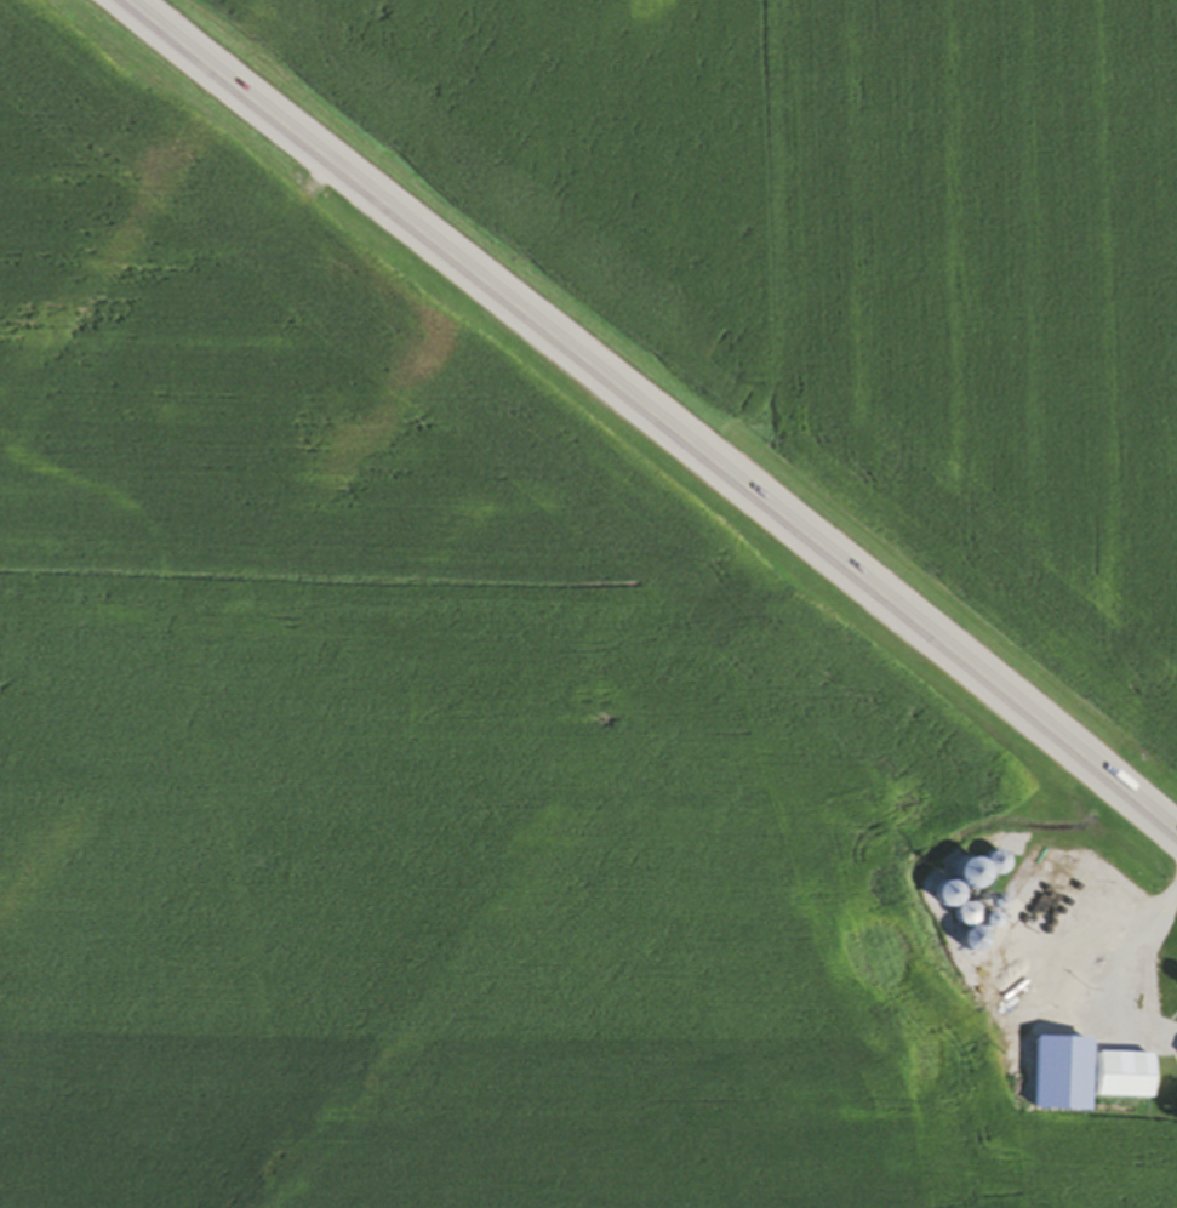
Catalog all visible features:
road: (651, 427)
building: (990, 866)
road: (1103, 938)
building: (1175, 1058)
building: (1081, 1077)

